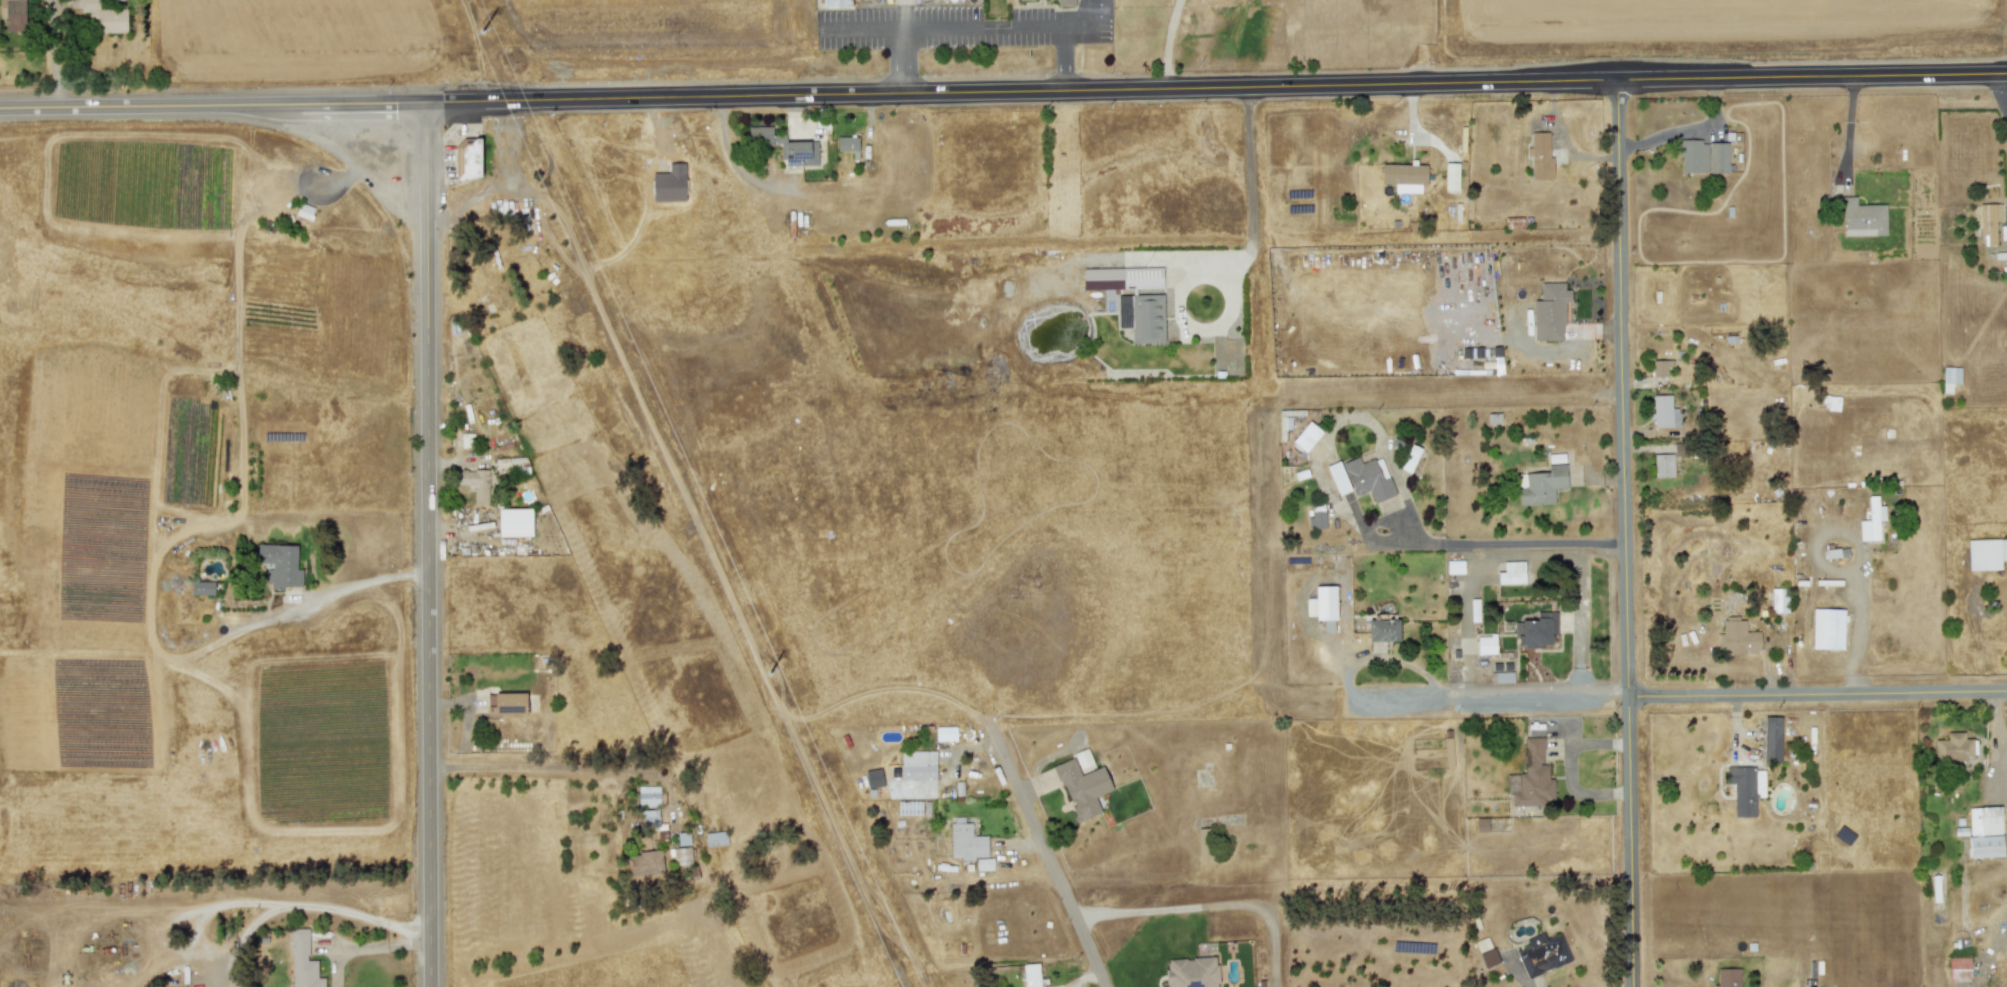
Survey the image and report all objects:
building: (1024, 0)
building: (836, 3)
building: (1064, 3)
road: (901, 13)
building: (13, 15)
building: (104, 17)
road: (985, 26)
road: (1169, 43)
road: (902, 62)
road: (2005, 83)
road: (1216, 88)
road: (213, 106)
building: (846, 144)
building: (785, 146)
building: (1540, 155)
building: (1702, 156)
building: (468, 160)
building: (1404, 177)
road: (1250, 189)
building: (304, 211)
building: (1860, 217)
building: (1988, 222)
building: (2003, 233)
building: (1130, 299)
crop: (312, 303)
building: (1549, 312)
road: (1185, 321)
building: (1659, 367)
building: (1950, 378)
building: (1664, 412)
building: (1307, 436)
building: (1410, 458)
building: (510, 464)
building: (1663, 465)
building: (1338, 478)
building: (1368, 478)
building: (474, 484)
building: (1540, 485)
building: (1316, 519)
building: (1871, 521)
building: (513, 522)
road: (1624, 534)
road: (427, 545)
road: (1518, 545)
building: (1986, 554)
road: (1525, 555)
building: (279, 565)
building: (1454, 567)
building: (1511, 573)
road: (362, 585)
building: (201, 588)
building: (1779, 600)
building: (1322, 603)
building: (1827, 629)
building: (1382, 630)
building: (1537, 630)
building: (1737, 636)
building: (1486, 645)
road: (1382, 657)
building: (1501, 677)
road: (1684, 697)
building: (505, 703)
building: (945, 734)
road: (1998, 735)
building: (1772, 739)
building: (1953, 747)
building: (1447, 754)
building: (1082, 759)
building: (917, 765)
road: (503, 769)
building: (1531, 777)
building: (873, 778)
building: (1082, 787)
building: (1745, 789)
building: (648, 795)
building: (648, 816)
building: (1481, 824)
building: (1984, 832)
building: (715, 838)
building: (966, 841)
building: (1202, 842)
building: (681, 856)
road: (1050, 861)
building: (645, 863)
building: (983, 864)
road: (1462, 865)
road: (251, 902)
road: (1209, 912)
road: (1999, 938)
building: (1482, 944)
road: (368, 948)
building: (1542, 954)
building: (1489, 958)
building: (302, 962)
building: (1958, 969)
building: (1191, 972)
building: (1030, 975)
building: (1727, 977)

